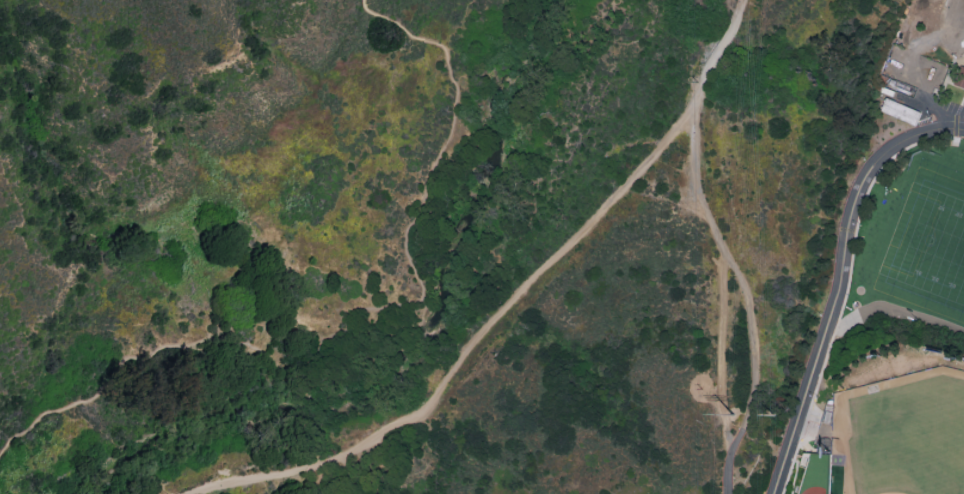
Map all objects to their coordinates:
road: (735, 16)
park: (952, 26)
building: (960, 75)
building: (901, 109)
park: (402, 236)
park: (929, 240)
road: (839, 280)
road: (357, 295)
road: (744, 303)
road: (496, 317)
power tower: (771, 413)
power tower: (734, 415)
park: (893, 430)
road: (428, 460)

